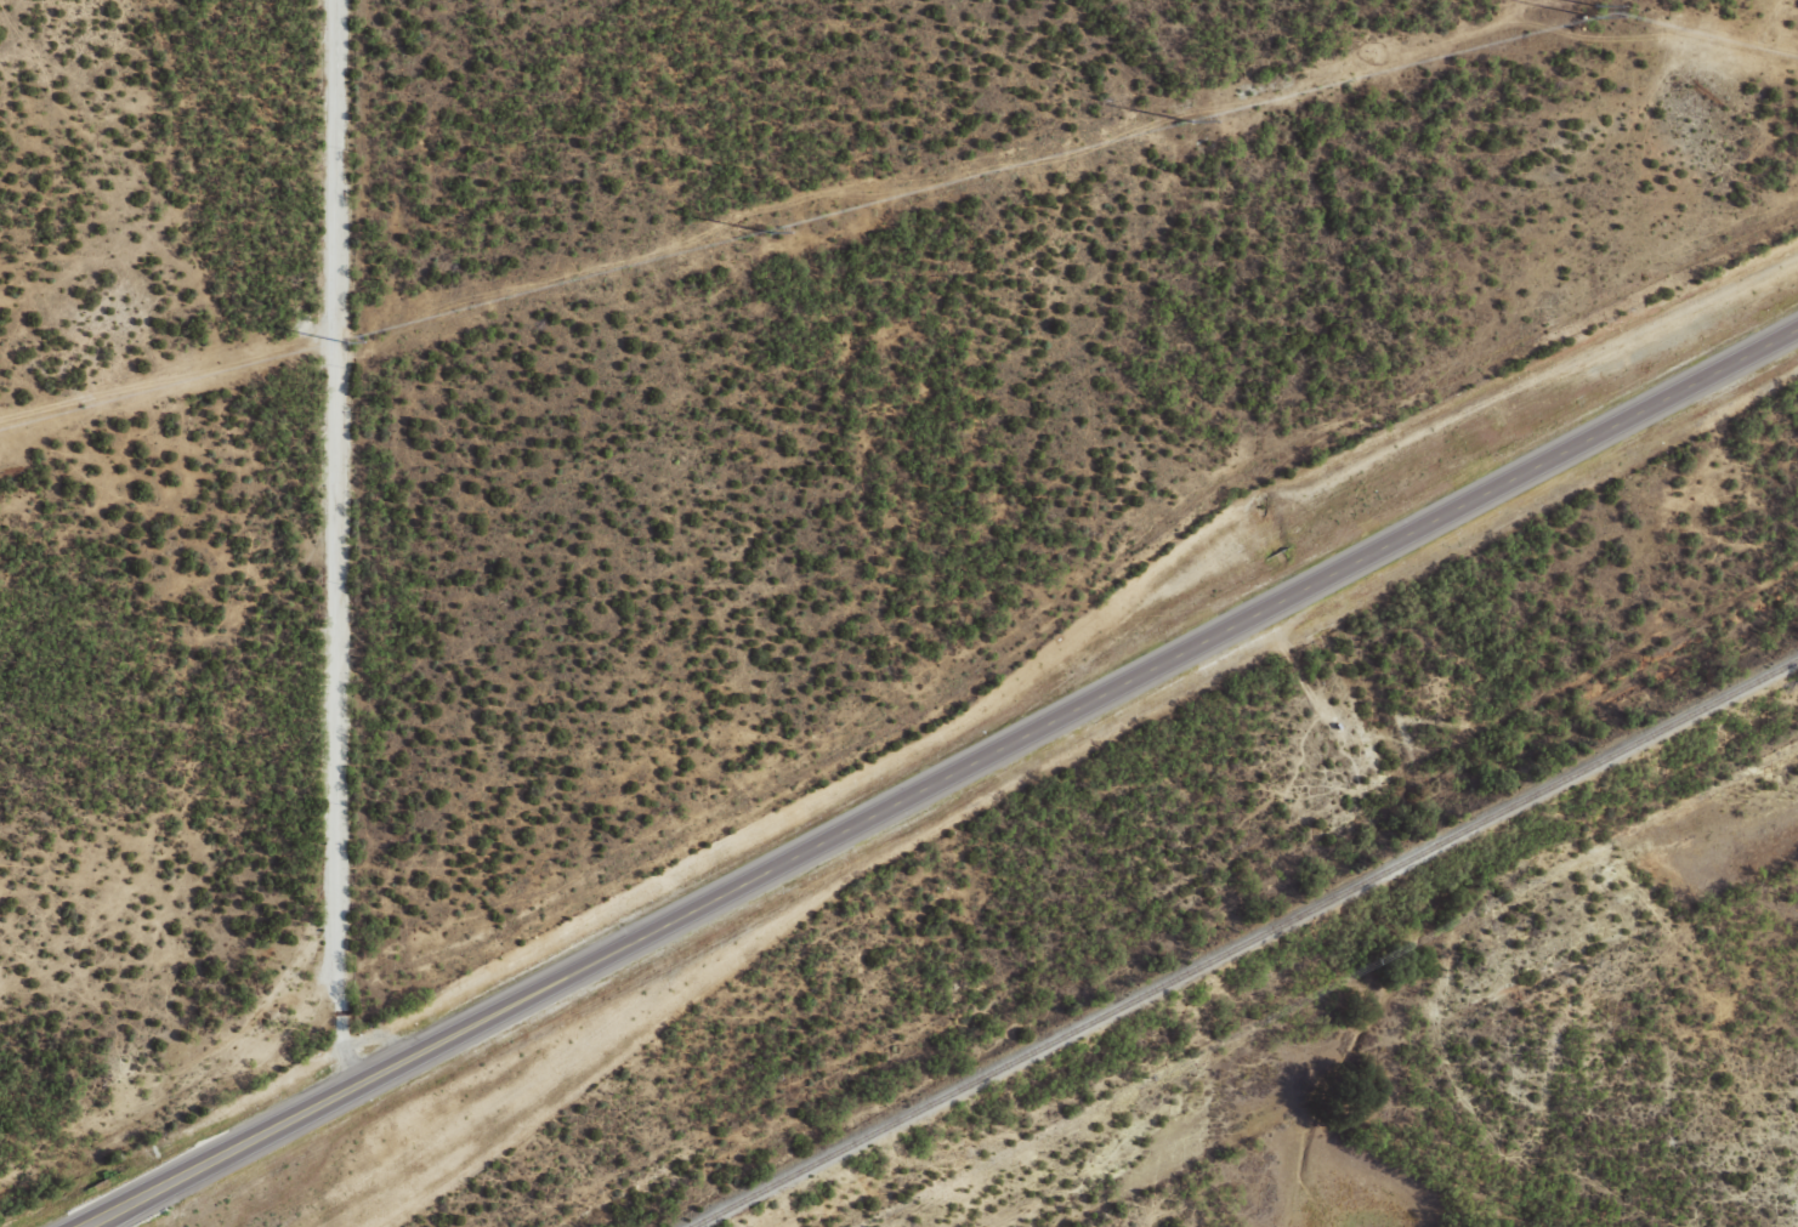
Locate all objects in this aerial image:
power tower: (1593, 10)
power tower: (1189, 119)
power tower: (766, 231)
power tower: (342, 340)
road: (963, 786)
railway: (1238, 938)

